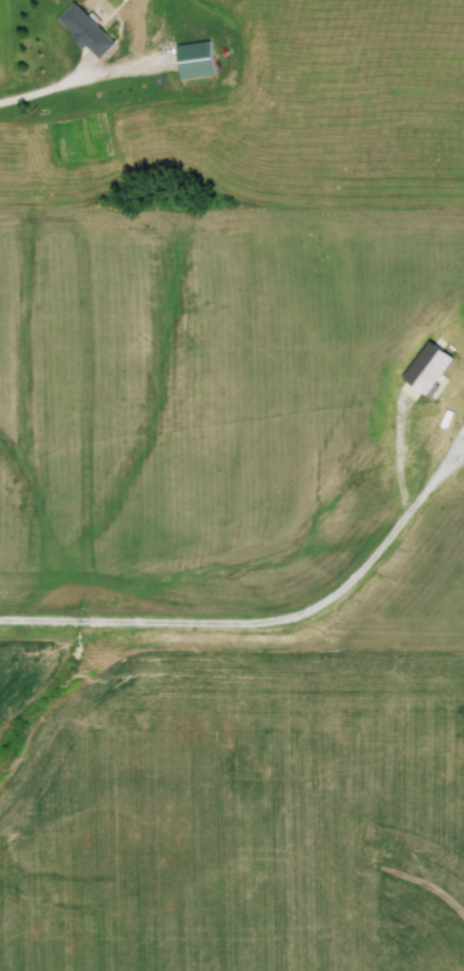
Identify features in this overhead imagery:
building: (85, 30)
building: (193, 61)
road: (63, 88)
road: (268, 622)

